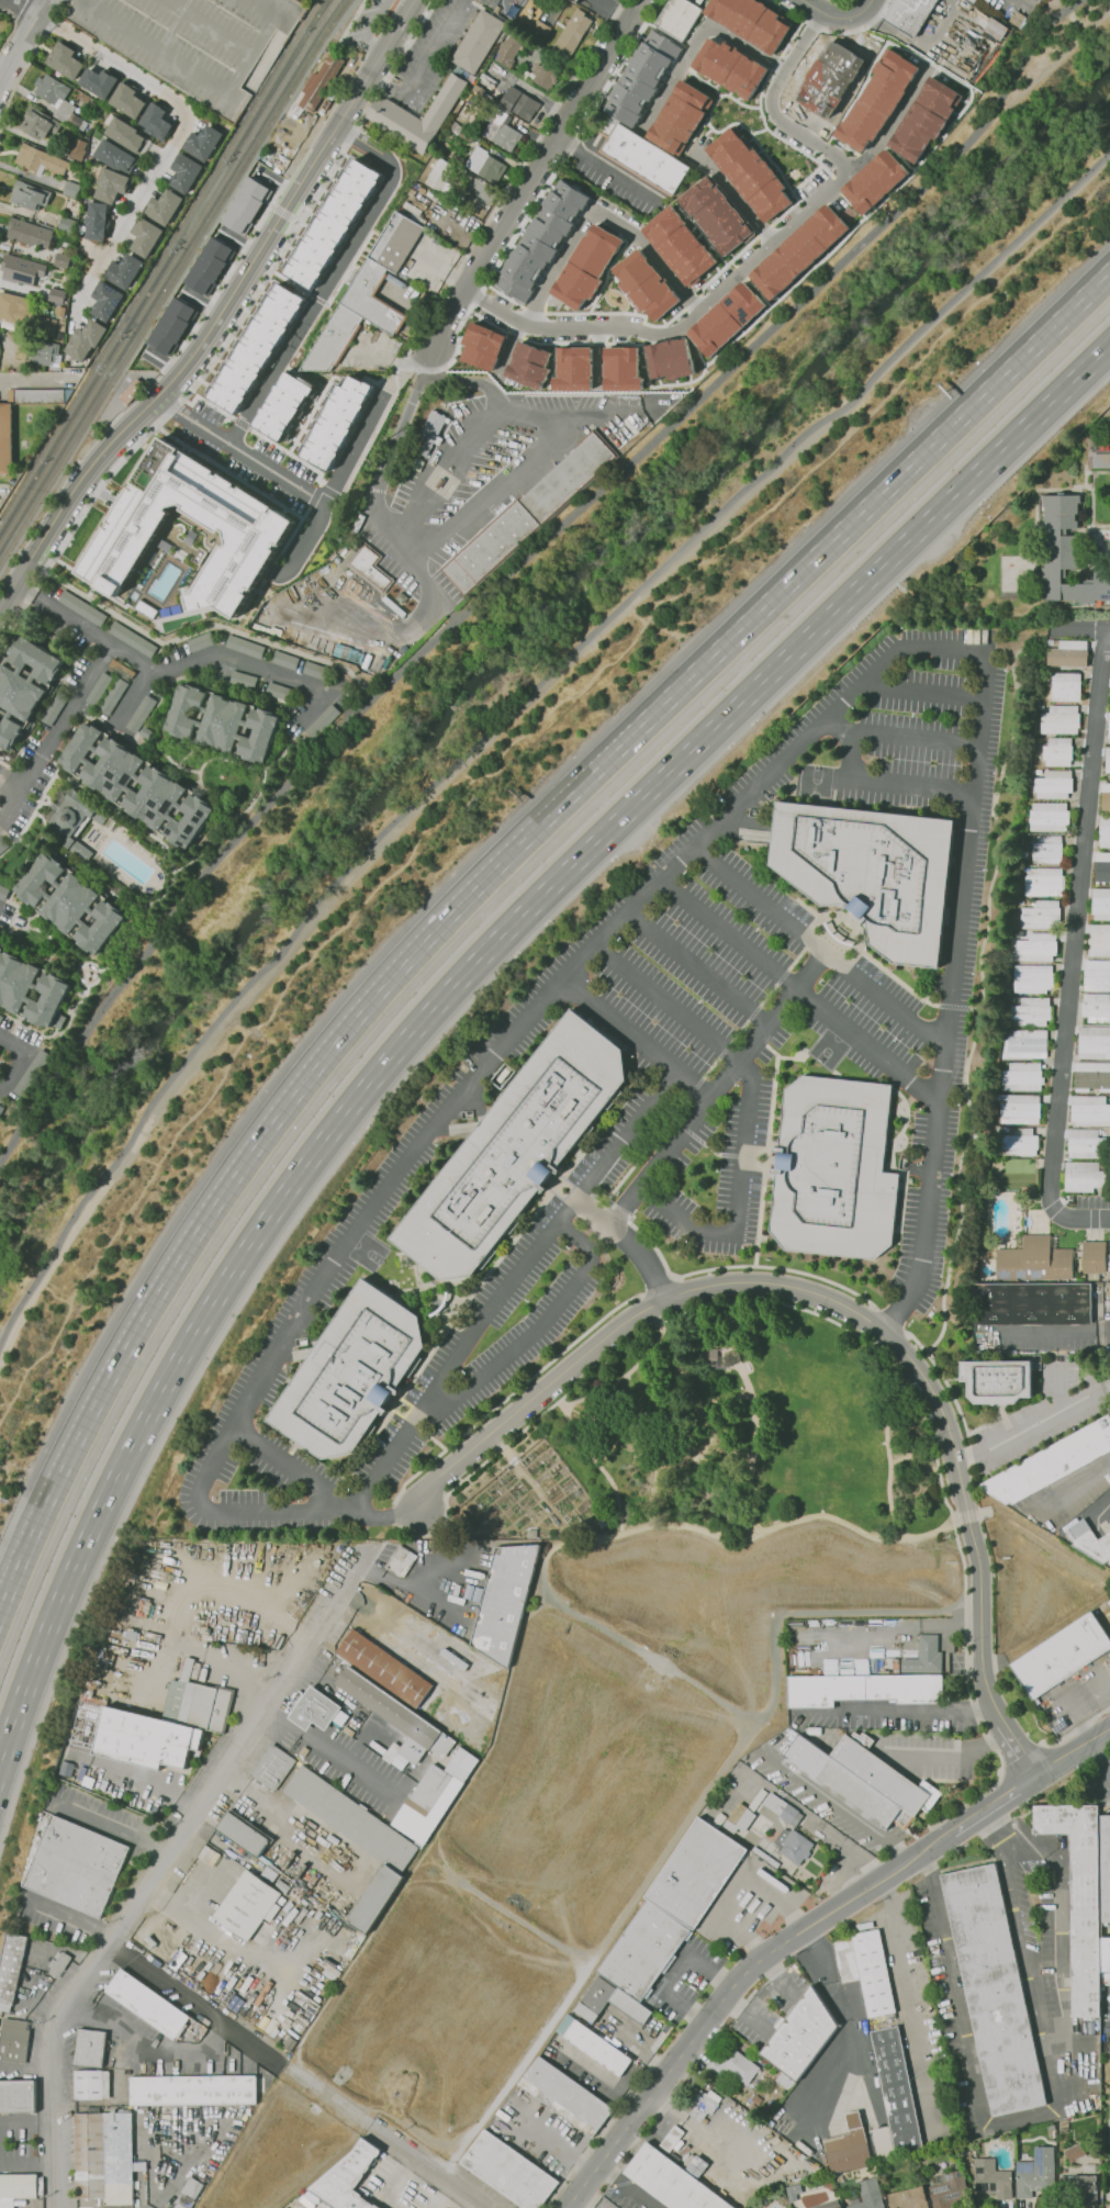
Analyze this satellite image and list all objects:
building: (311, 0)
building: (972, 0)
road: (1076, 0)
building: (578, 1)
building: (967, 1)
road: (840, 2)
building: (735, 5)
road: (865, 9)
road: (827, 15)
building: (904, 15)
building: (674, 18)
building: (758, 18)
road: (351, 20)
parking lot: (365, 23)
road: (369, 27)
building: (538, 27)
building: (995, 30)
road: (830, 33)
building: (575, 34)
building: (778, 34)
road: (699, 37)
road: (21, 42)
building: (197, 42)
parking lot: (197, 42)
building: (479, 42)
park: (1045, 43)
road: (429, 47)
building: (508, 49)
building: (705, 54)
road: (29, 59)
building: (66, 61)
building: (823, 61)
building: (736, 70)
building: (640, 77)
building: (545, 78)
building: (98, 83)
building: (324, 83)
road: (384, 83)
building: (51, 88)
building: (484, 88)
building: (127, 100)
building: (873, 101)
building: (523, 102)
building: (65, 111)
building: (391, 112)
building: (809, 112)
building: (680, 117)
building: (157, 120)
building: (923, 120)
building: (78, 121)
road: (890, 124)
building: (37, 125)
road: (179, 127)
building: (125, 133)
building: (506, 134)
building: (457, 137)
building: (202, 143)
building: (77, 147)
building: (114, 155)
building: (637, 157)
building: (33, 158)
building: (485, 165)
road: (598, 166)
building: (184, 172)
building: (749, 173)
building: (438, 179)
building: (874, 181)
building: (112, 184)
road: (529, 184)
building: (70, 190)
building: (29, 194)
road: (740, 203)
building: (245, 205)
building: (165, 206)
road: (283, 214)
road: (599, 214)
building: (716, 215)
building: (489, 217)
building: (96, 221)
building: (65, 223)
building: (333, 224)
building: (21, 233)
building: (146, 237)
building: (543, 239)
building: (572, 242)
building: (399, 243)
building: (679, 246)
building: (798, 251)
road: (758, 255)
building: (61, 260)
railway: (160, 262)
building: (16, 266)
building: (208, 266)
building: (124, 270)
railway: (167, 271)
road: (447, 272)
road: (330, 276)
road: (224, 277)
railway: (173, 280)
building: (644, 285)
building: (56, 294)
building: (373, 299)
building: (532, 300)
building: (106, 301)
building: (11, 305)
building: (61, 311)
road: (218, 315)
building: (725, 318)
building: (482, 323)
building: (44, 326)
building: (171, 326)
road: (232, 330)
building: (85, 339)
building: (334, 341)
building: (483, 346)
building: (256, 348)
building: (44, 354)
road: (388, 358)
building: (669, 359)
building: (528, 366)
building: (621, 368)
building: (573, 369)
road: (428, 370)
road: (391, 374)
road: (30, 381)
building: (133, 392)
building: (34, 394)
building: (282, 405)
building: (336, 422)
road: (557, 431)
building: (426, 434)
building: (4, 438)
road: (1099, 445)
road: (240, 449)
building: (1100, 459)
road: (380, 469)
road: (334, 483)
road: (2, 485)
road: (874, 505)
building: (523, 514)
building: (251, 526)
building: (1065, 553)
road: (520, 561)
building: (370, 565)
building: (81, 607)
road: (1069, 630)
road: (1101, 630)
road: (390, 632)
building: (132, 638)
building: (200, 641)
building: (244, 646)
building: (1068, 653)
building: (36, 659)
building: (284, 659)
road: (182, 662)
building: (314, 670)
building: (243, 679)
building: (1064, 686)
building: (99, 688)
road: (920, 690)
building: (278, 691)
building: (19, 692)
building: (112, 696)
road: (134, 696)
building: (55, 707)
building: (184, 710)
road: (513, 711)
building: (141, 714)
building: (1058, 719)
building: (323, 721)
building: (222, 722)
building: (1108, 727)
road: (55, 730)
building: (9, 731)
building: (147, 731)
building: (259, 735)
road: (898, 737)
building: (80, 747)
building: (1056, 751)
road: (846, 755)
road: (497, 759)
building: (1107, 760)
building: (113, 770)
road: (9, 781)
road: (886, 784)
building: (1052, 784)
road: (9, 786)
building: (1105, 796)
building: (155, 797)
building: (71, 815)
building: (1047, 816)
building: (190, 821)
building: (1103, 832)
road: (698, 841)
building: (3, 845)
building: (1045, 849)
building: (1101, 866)
building: (865, 872)
building: (40, 879)
building: (1043, 882)
building: (3, 893)
building: (70, 903)
building: (1100, 904)
building: (1040, 915)
road: (1075, 920)
building: (101, 927)
building: (1098, 940)
building: (1036, 946)
road: (816, 948)
road: (696, 968)
building: (1096, 975)
road: (456, 978)
building: (1032, 978)
building: (14, 979)
road: (798, 990)
building: (47, 1000)
building: (1095, 1007)
building: (1030, 1011)
building: (0, 1017)
road: (631, 1040)
building: (1092, 1042)
building: (1023, 1043)
road: (18, 1057)
building: (1021, 1076)
building: (1091, 1076)
road: (715, 1089)
building: (1, 1109)
road: (743, 1109)
building: (1020, 1109)
building: (1089, 1110)
road: (266, 1133)
building: (1019, 1141)
building: (1087, 1143)
building: (506, 1153)
building: (830, 1170)
building: (1084, 1176)
road: (1079, 1217)
building: (1109, 1235)
road: (625, 1242)
building: (1092, 1256)
building: (1033, 1260)
road: (505, 1285)
road: (789, 1289)
building: (1029, 1307)
road: (1051, 1330)
road: (534, 1332)
building: (714, 1358)
building: (354, 1372)
building: (993, 1385)
road: (1032, 1423)
park: (716, 1442)
building: (1050, 1465)
road: (295, 1470)
road: (1068, 1488)
building: (1092, 1542)
building: (401, 1562)
road: (413, 1588)
building: (507, 1601)
road: (190, 1606)
building: (923, 1656)
building: (1057, 1656)
building: (385, 1669)
road: (317, 1677)
building: (864, 1690)
road: (986, 1693)
building: (205, 1707)
road: (894, 1708)
building: (316, 1711)
building: (395, 1713)
building: (470, 1738)
building: (144, 1739)
road: (1017, 1750)
road: (329, 1751)
road: (1070, 1751)
road: (1097, 1761)
building: (273, 1768)
building: (867, 1779)
road: (147, 1783)
building: (435, 1797)
road: (991, 1805)
road: (844, 1811)
building: (354, 1818)
road: (1001, 1827)
road: (116, 1829)
building: (245, 1832)
building: (796, 1846)
road: (856, 1851)
road: (164, 1861)
building: (77, 1864)
building: (698, 1872)
building: (1086, 1894)
building: (377, 1897)
building: (248, 1904)
road: (754, 1907)
road: (181, 1913)
road: (70, 1916)
road: (1062, 1929)
road: (1021, 1943)
building: (647, 1951)
building: (11, 1965)
building: (870, 1971)
road: (168, 1984)
building: (997, 1990)
road: (733, 1993)
building: (608, 1995)
road: (909, 1996)
building: (148, 2003)
road: (852, 2032)
building: (805, 2036)
building: (14, 2041)
road: (146, 2044)
road: (255, 2046)
building: (596, 2046)
building: (90, 2048)
road: (971, 2059)
building: (737, 2066)
building: (783, 2080)
road: (598, 2083)
building: (88, 2085)
building: (194, 2091)
building: (899, 2091)
road: (325, 2095)
building: (18, 2096)
building: (568, 2096)
building: (706, 2103)
road: (26, 2125)
building: (1109, 2126)
building: (670, 2138)
building: (969, 2144)
road: (557, 2147)
building: (851, 2147)
building: (1075, 2152)
building: (103, 2156)
road: (26, 2162)
building: (956, 2164)
road: (425, 2166)
building: (511, 2171)
building: (1035, 2173)
building: (350, 2178)
building: (991, 2178)
building: (672, 2181)
road: (386, 2183)
building: (18, 2186)
building: (192, 2187)
road: (628, 2187)
building: (1079, 2188)
building: (948, 2189)
building: (793, 2193)
road: (439, 2195)
building: (866, 2195)
building: (907, 2198)
building: (829, 2205)

